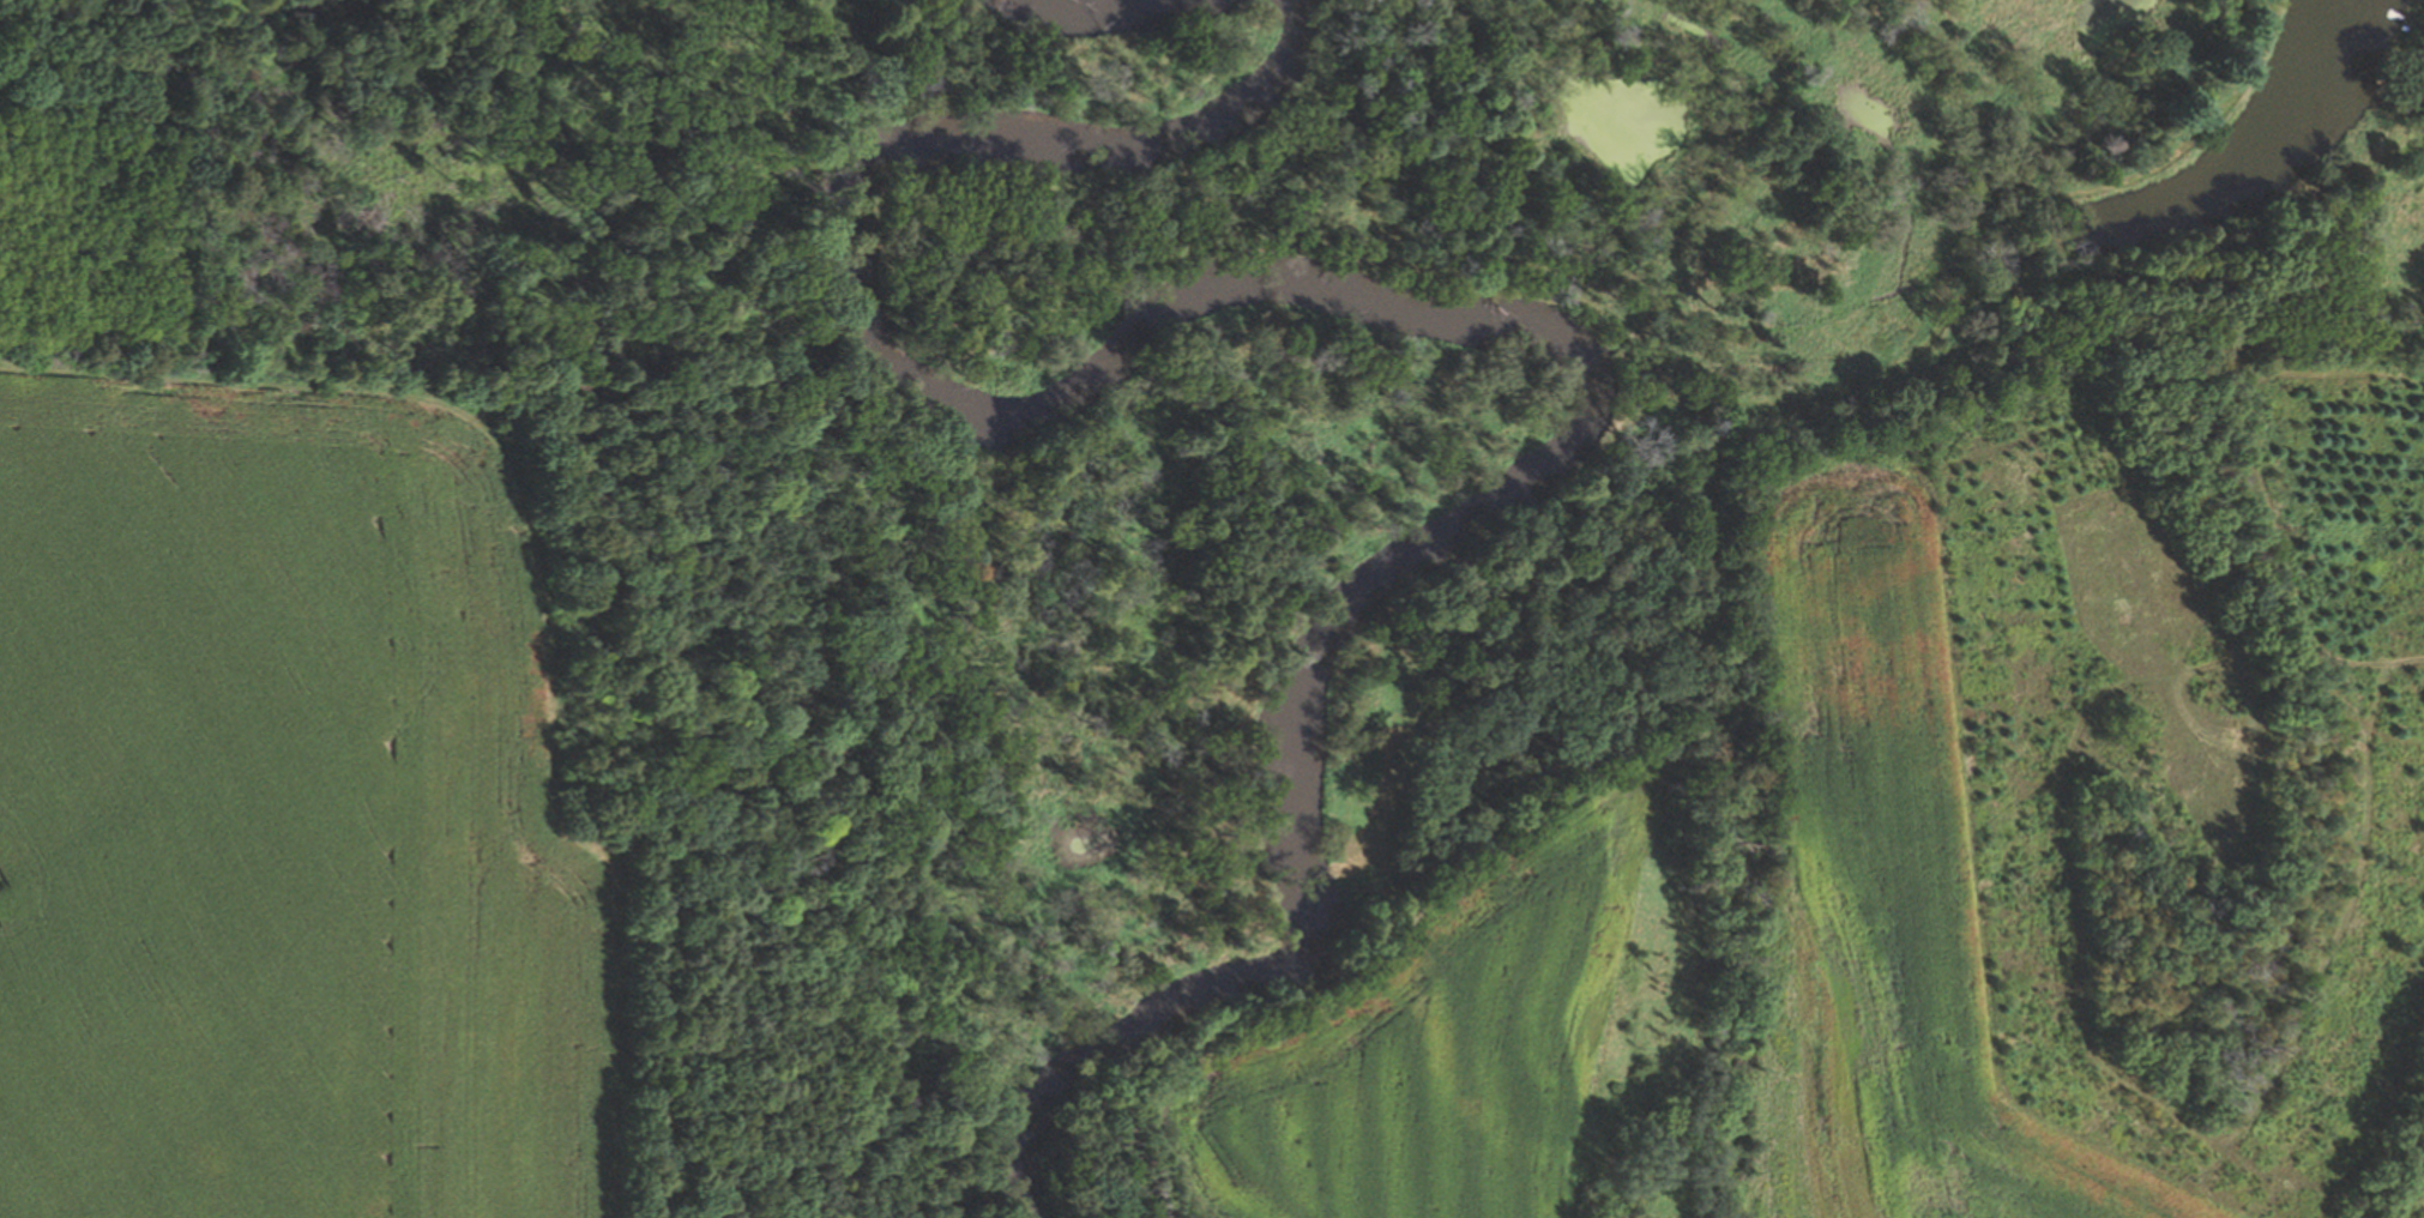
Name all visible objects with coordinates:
river: (1271, 327)

